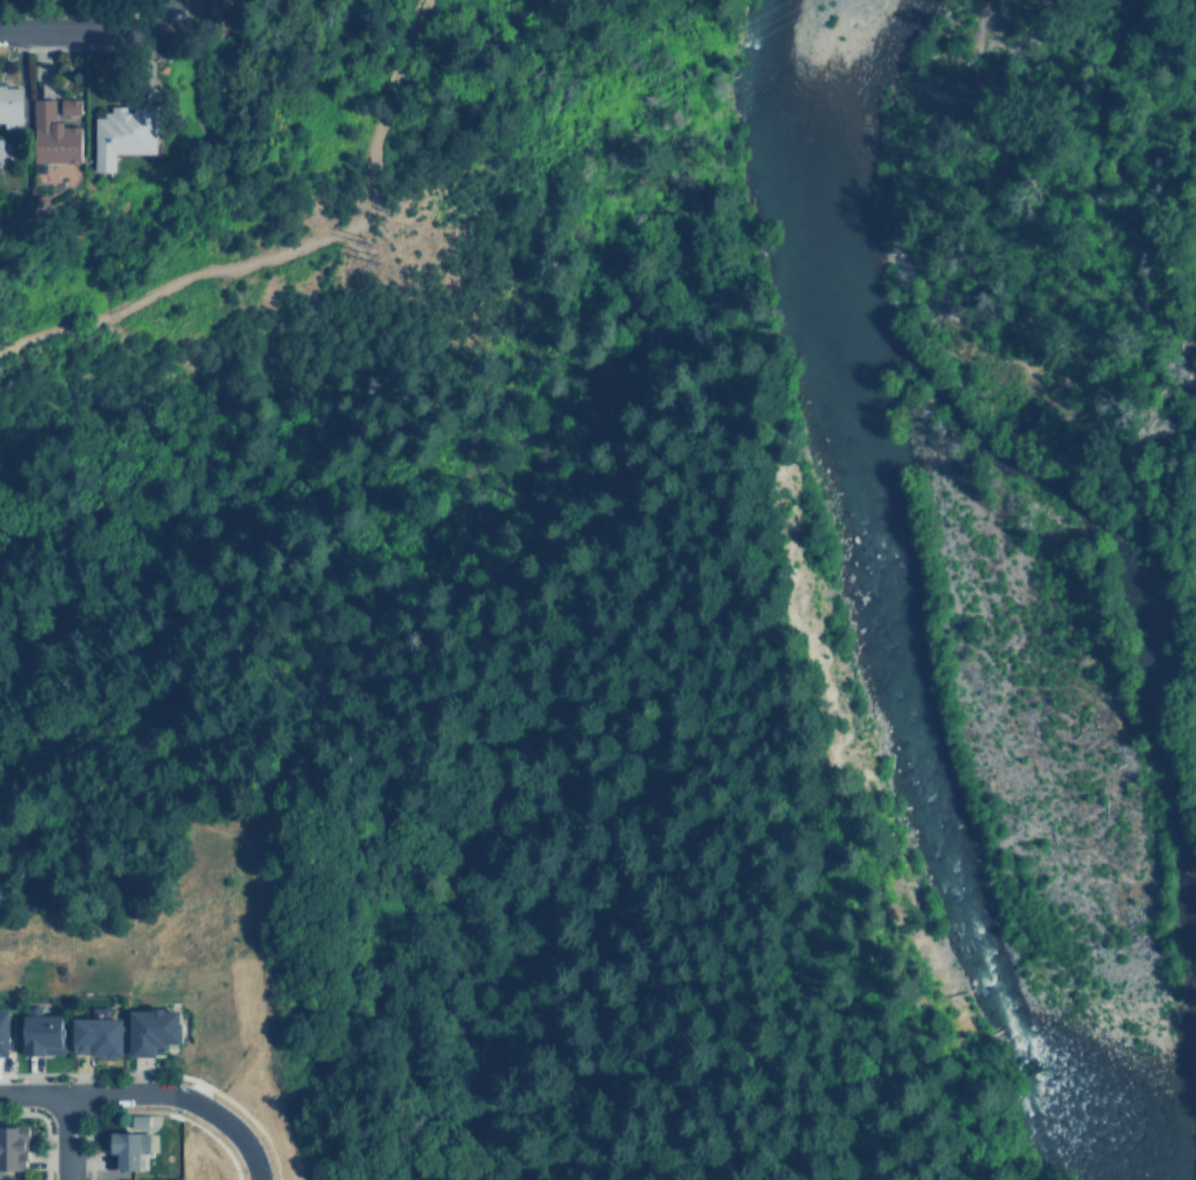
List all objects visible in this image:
road: (162, 11)
road: (78, 29)
building: (11, 106)
building: (58, 130)
building: (125, 133)
building: (370, 142)
building: (5, 152)
building: (1, 221)
road: (291, 246)
river: (862, 620)
park: (93, 623)
road: (247, 856)
building: (2, 1031)
building: (151, 1031)
building: (41, 1034)
building: (94, 1037)
road: (139, 1073)
road: (77, 1093)
road: (146, 1111)
building: (140, 1120)
road: (218, 1120)
road: (41, 1128)
road: (64, 1137)
road: (66, 1137)
building: (128, 1146)
building: (10, 1147)
road: (270, 1153)

